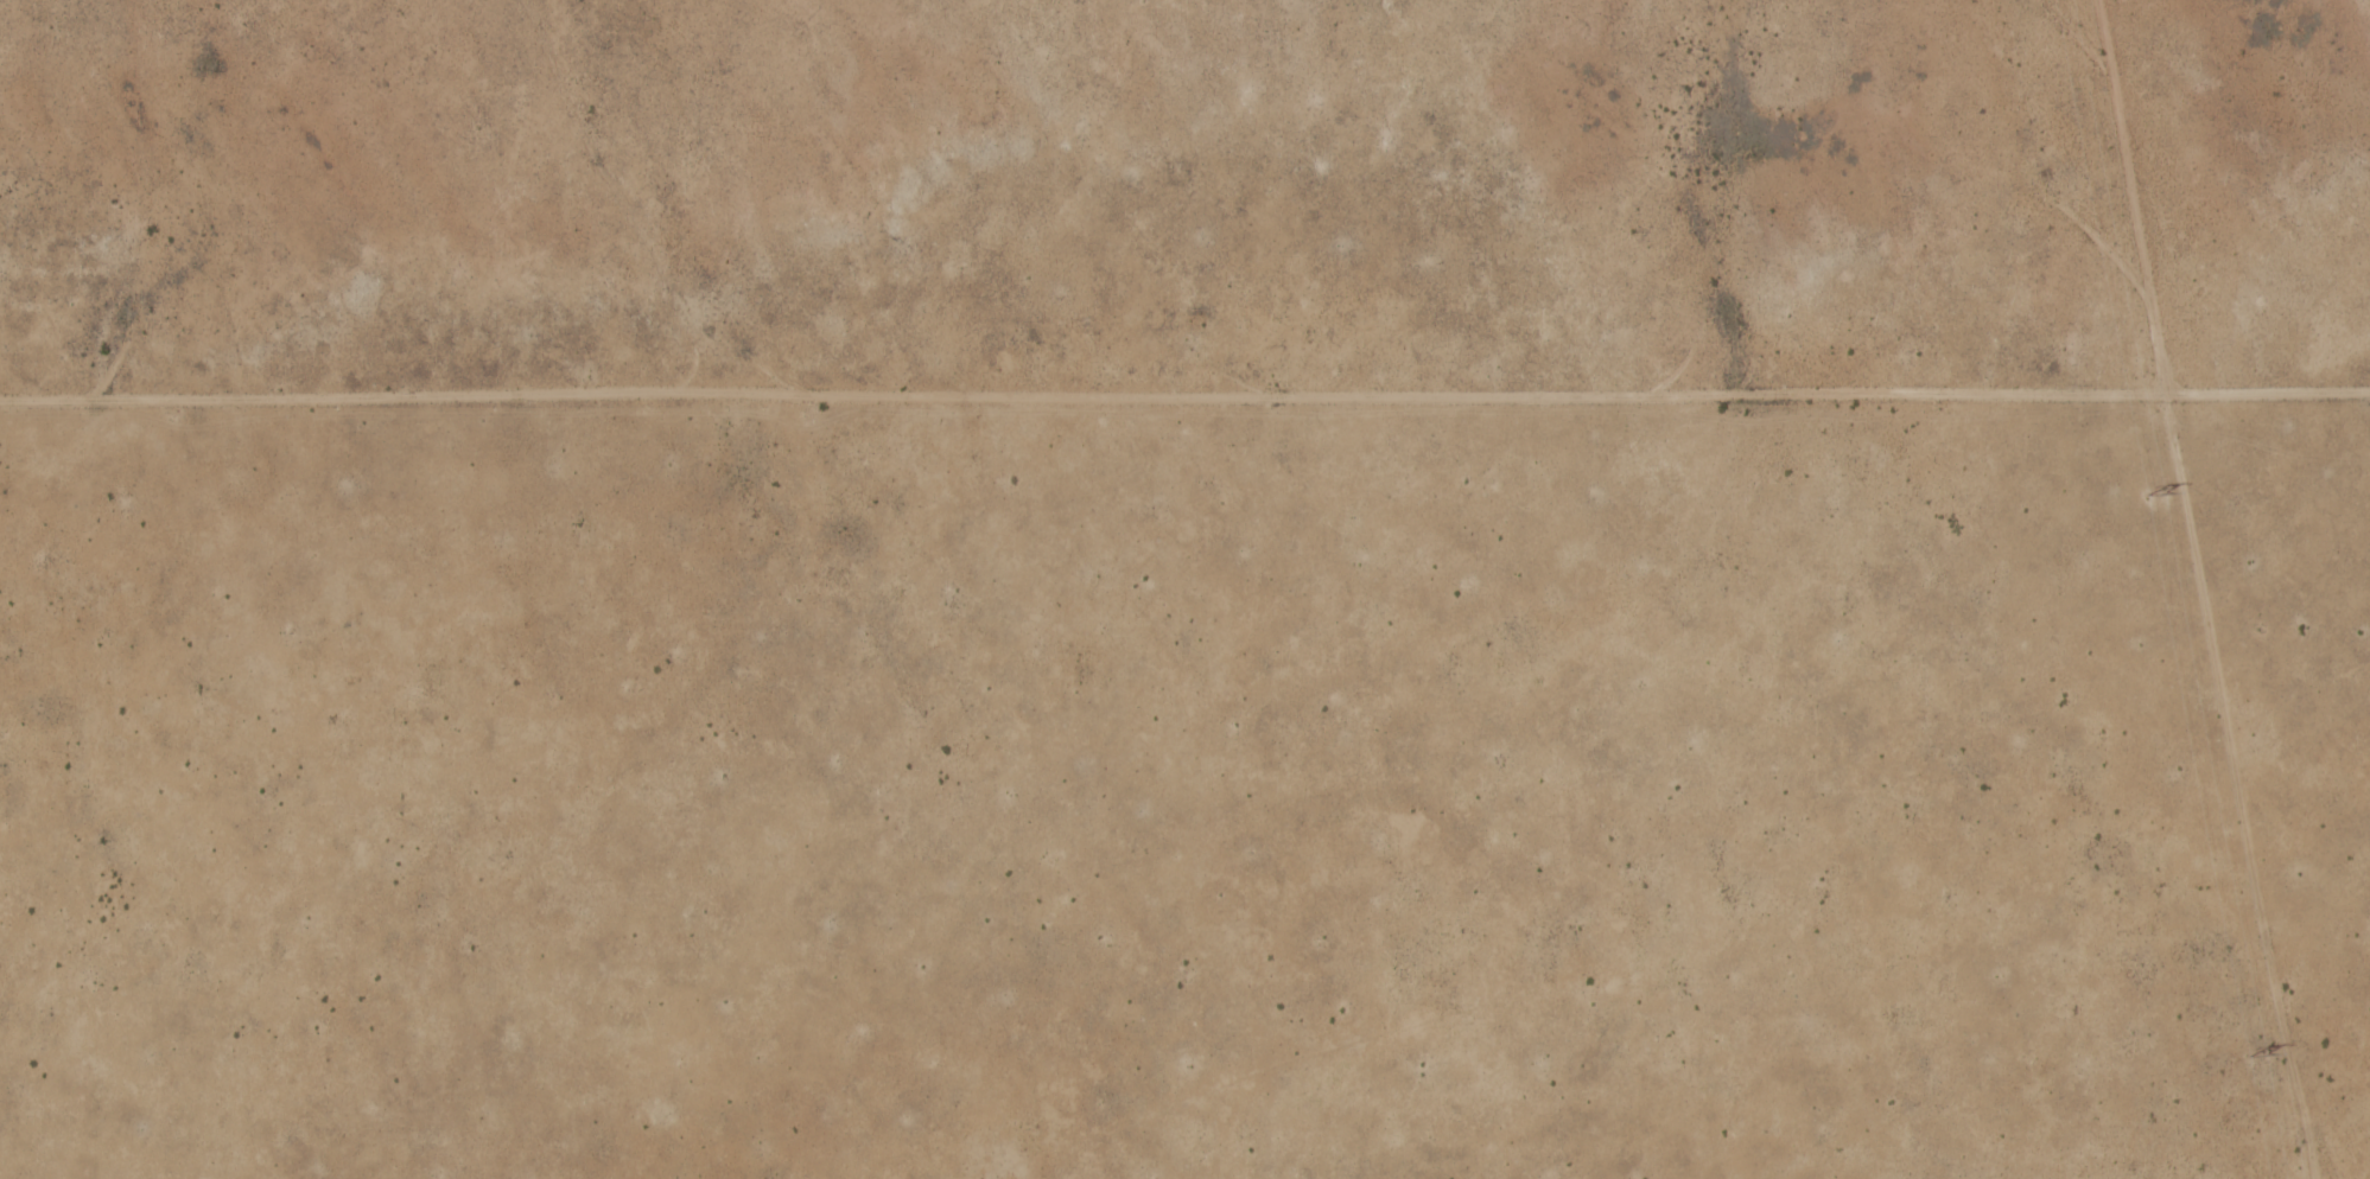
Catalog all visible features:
road: (2295, 377)
power tower: (2159, 495)
power tower: (2261, 1053)

